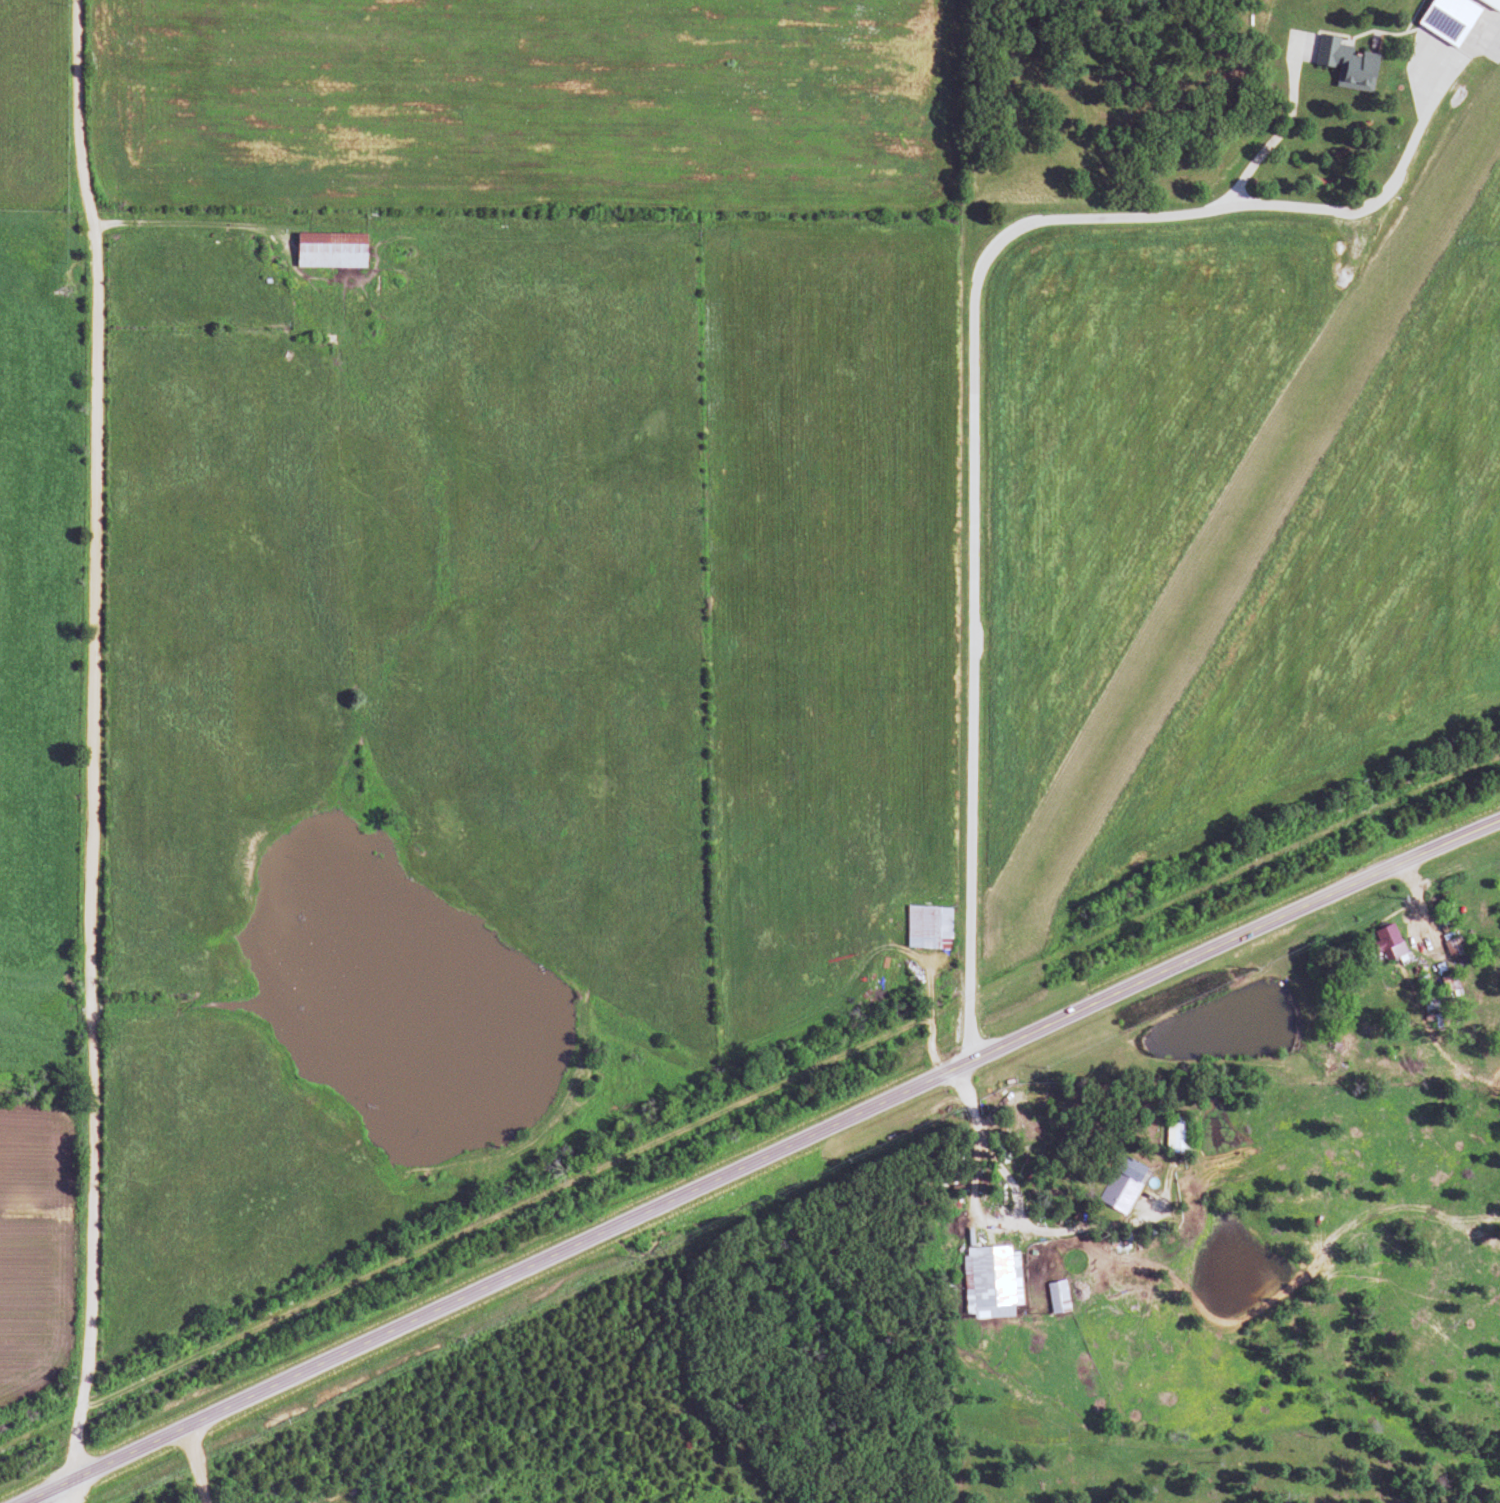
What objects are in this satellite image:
building: (1446, 19)
building: (1345, 64)
road: (1364, 208)
road: (184, 222)
building: (329, 252)
road: (968, 452)
road: (90, 739)
building: (926, 927)
building: (1386, 940)
building: (1447, 983)
building: (1427, 999)
railway: (750, 1090)
building: (1176, 1134)
road: (761, 1163)
building: (952, 1163)
building: (1121, 1185)
building: (987, 1281)
building: (1055, 1297)
road: (72, 1491)

